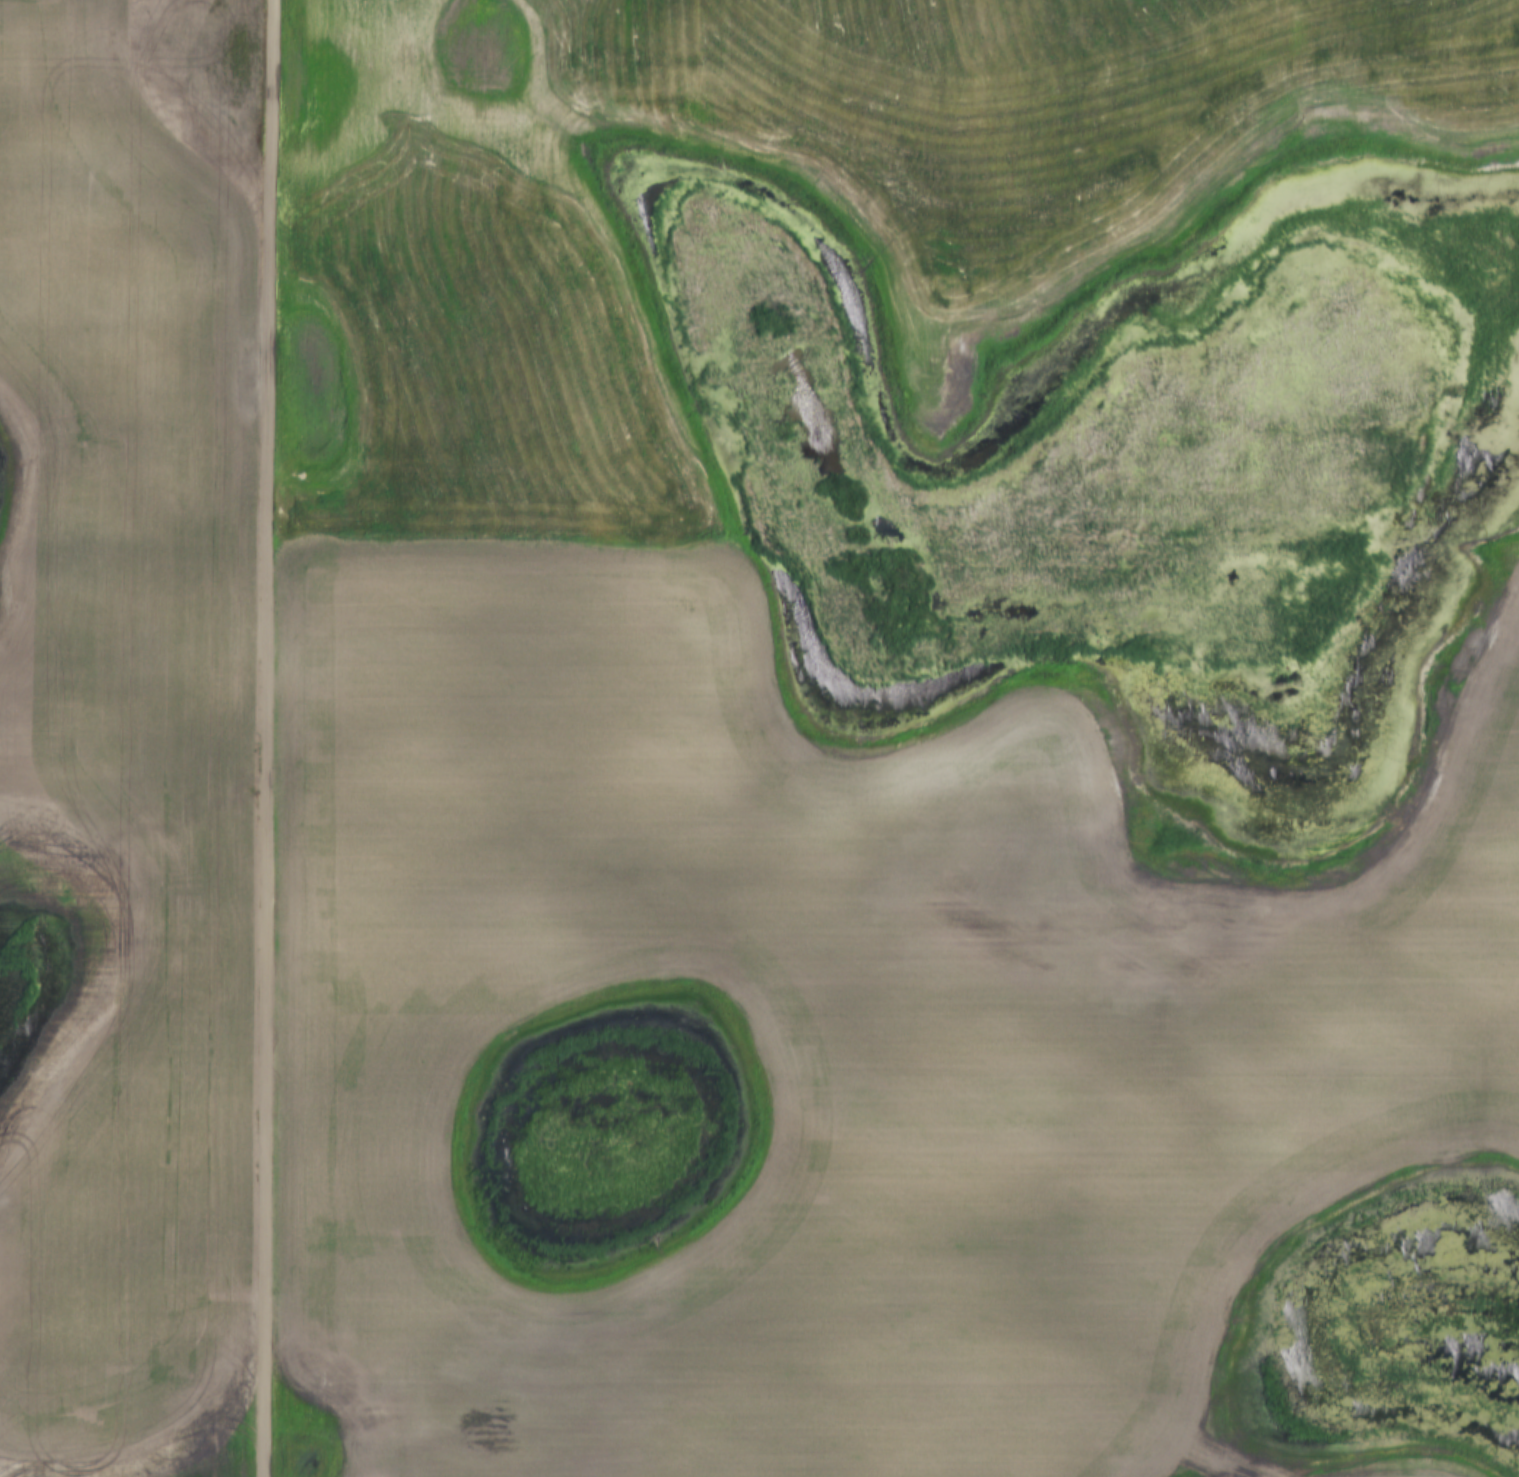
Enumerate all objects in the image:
road: (267, 738)

